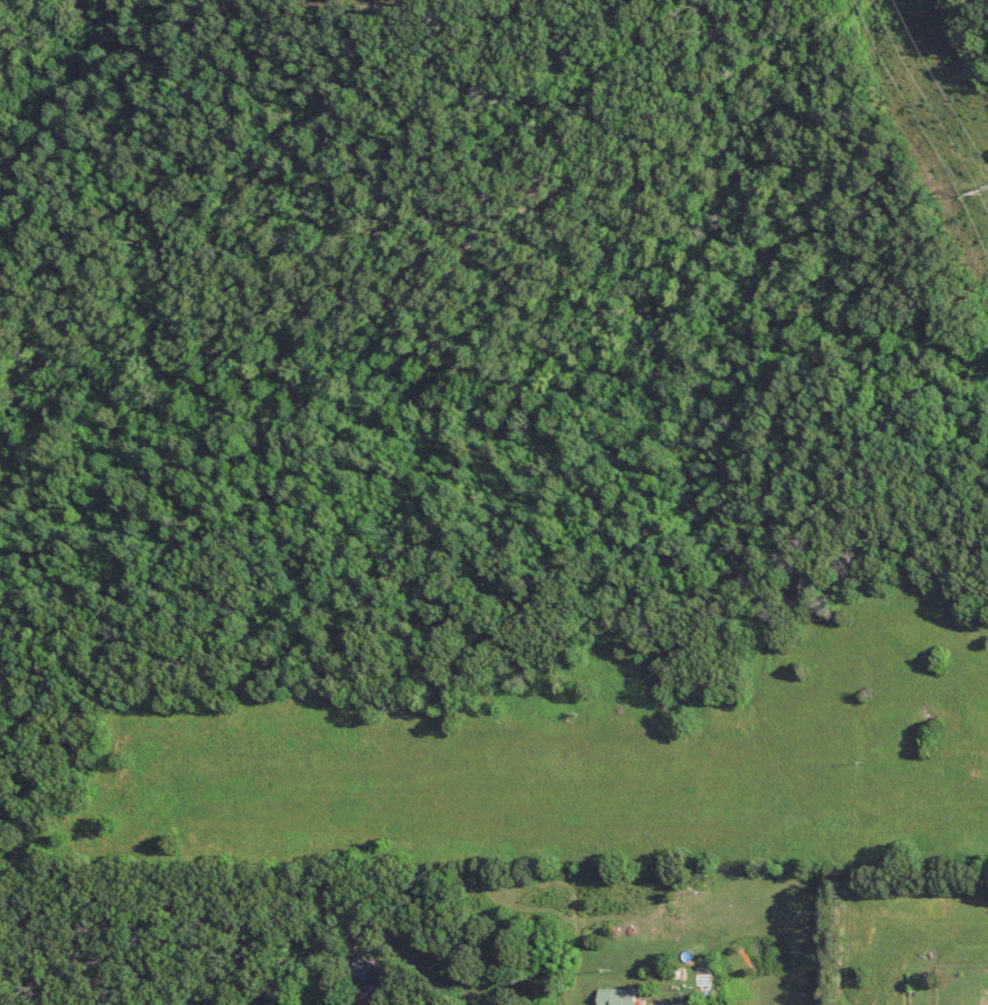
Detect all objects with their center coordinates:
building: (371, 972)
building: (621, 997)

